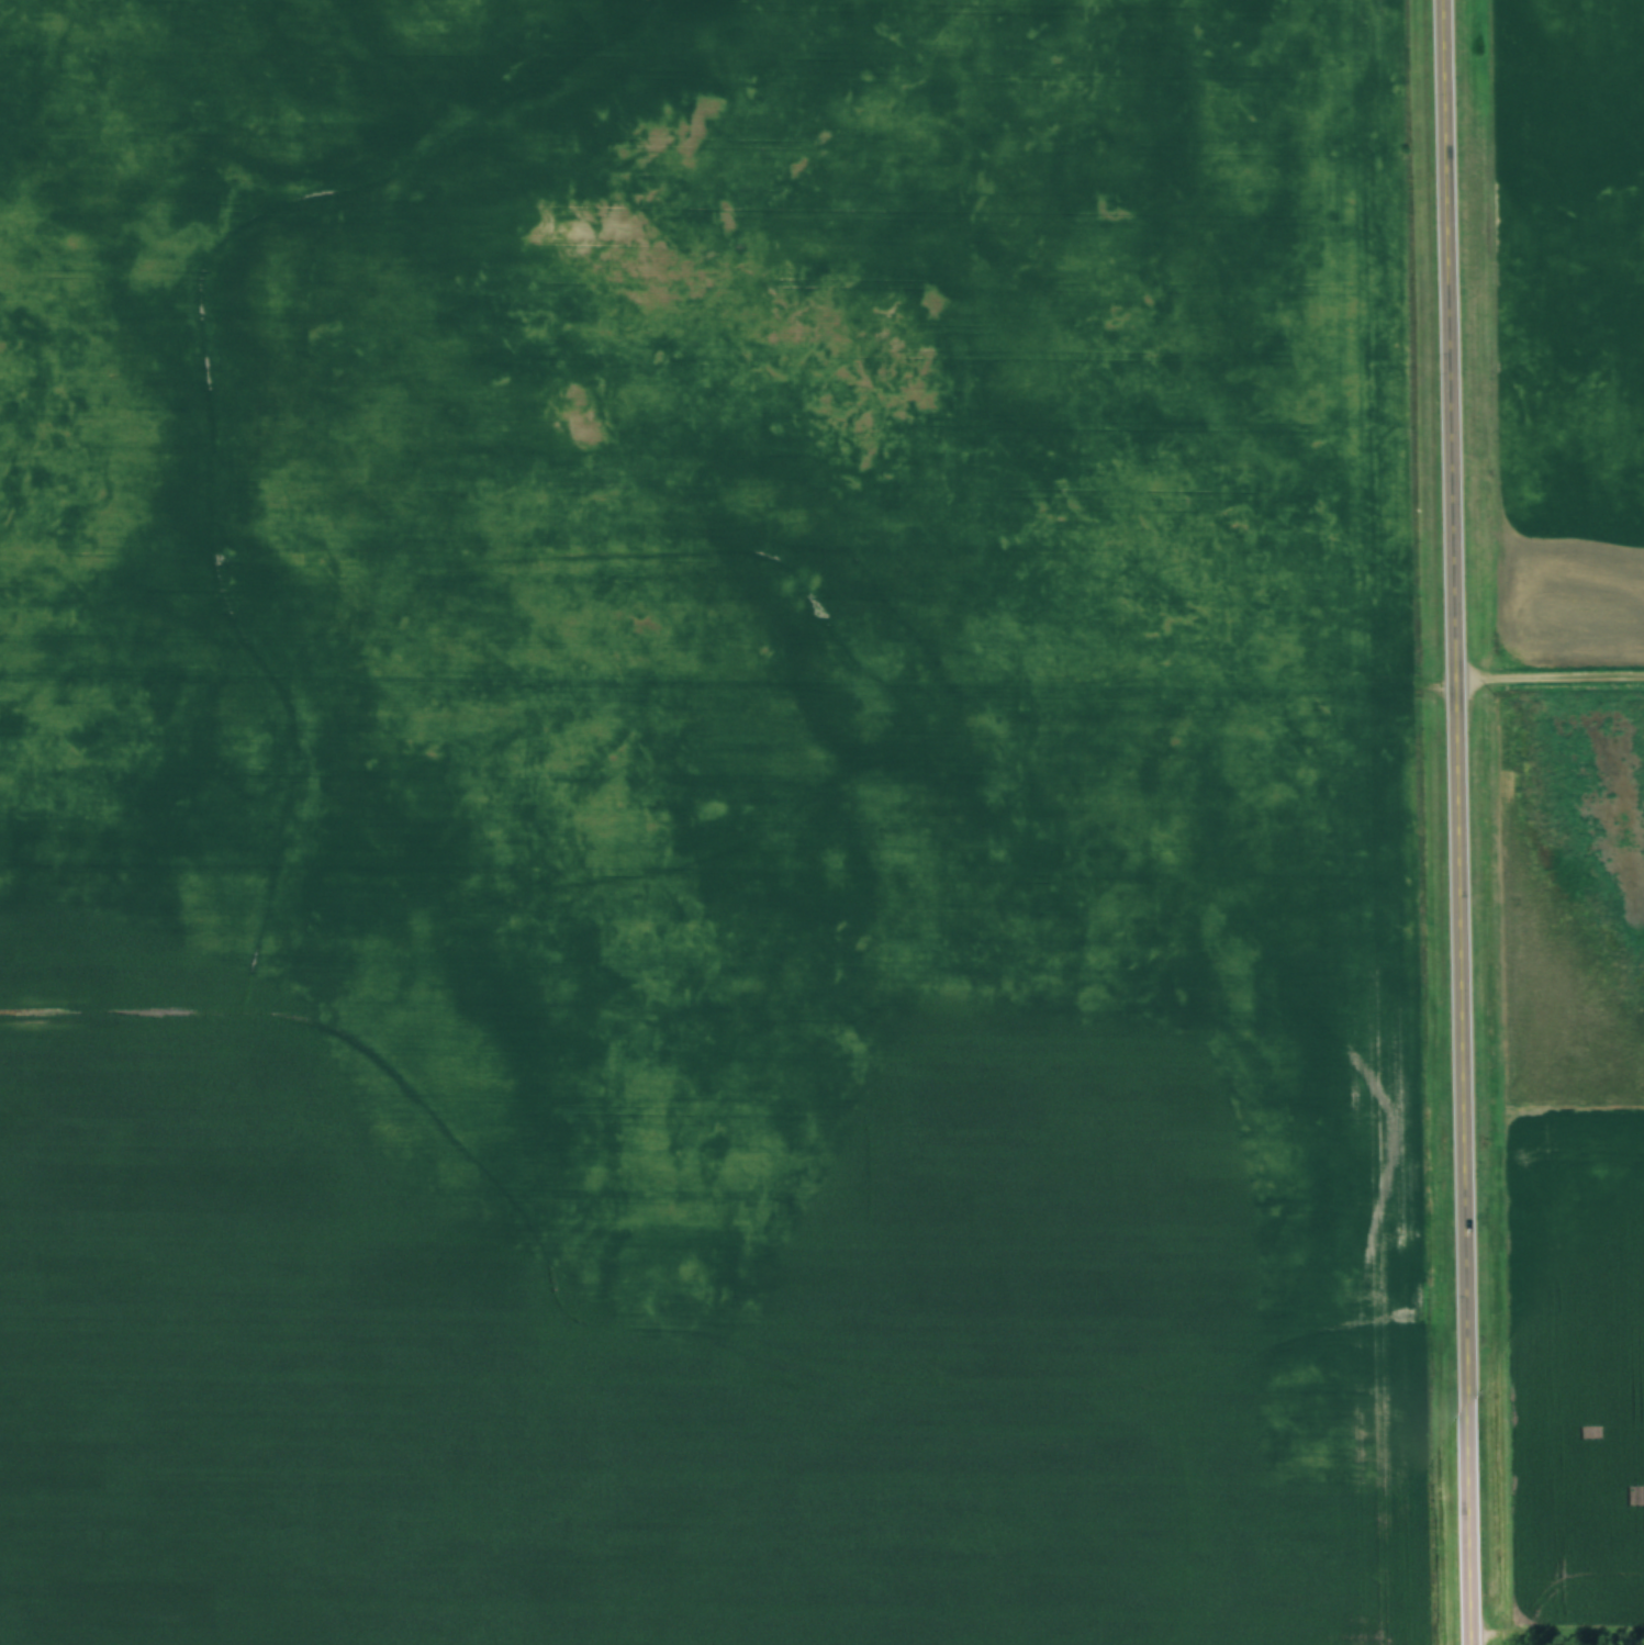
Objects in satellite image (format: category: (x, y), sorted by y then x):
road: (1547, 681)
road: (1454, 822)

